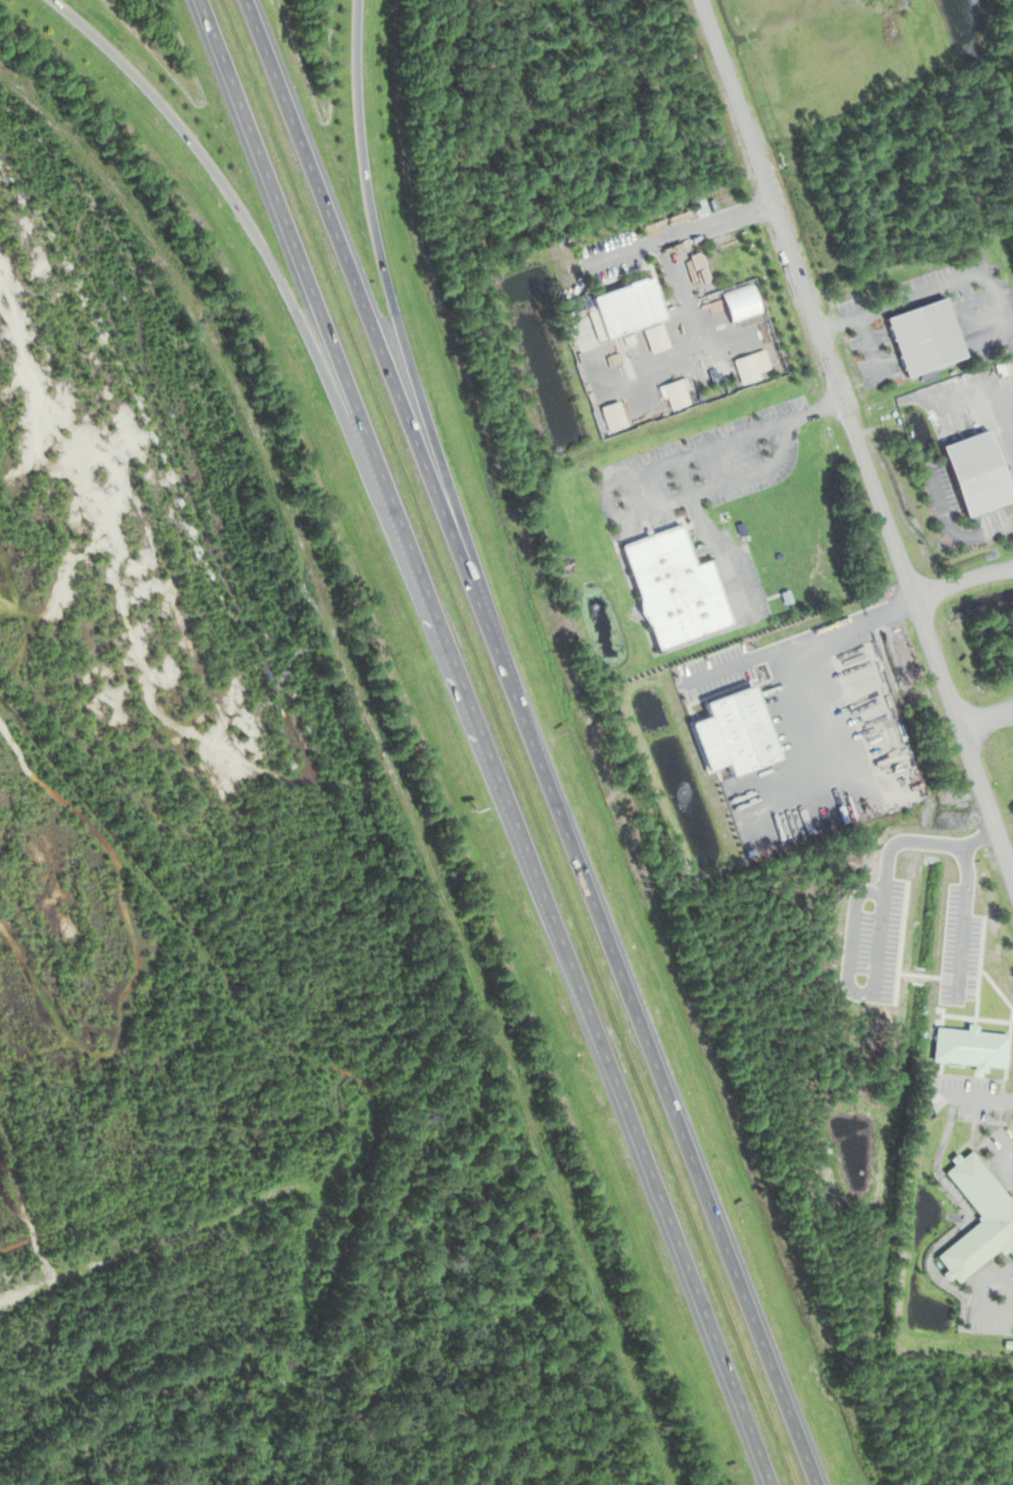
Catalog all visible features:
road: (678, 230)
road: (677, 264)
road: (946, 286)
road: (972, 302)
building: (626, 310)
road: (298, 317)
building: (923, 339)
road: (870, 346)
road: (407, 360)
road: (858, 438)
building: (975, 475)
road: (612, 482)
road: (711, 542)
road: (962, 578)
building: (673, 590)
road: (484, 742)
road: (530, 742)
road: (886, 864)
road: (962, 921)
road: (851, 940)
building: (969, 1046)
road: (976, 1097)
road: (1004, 1153)
building: (977, 1218)
road: (993, 1314)

